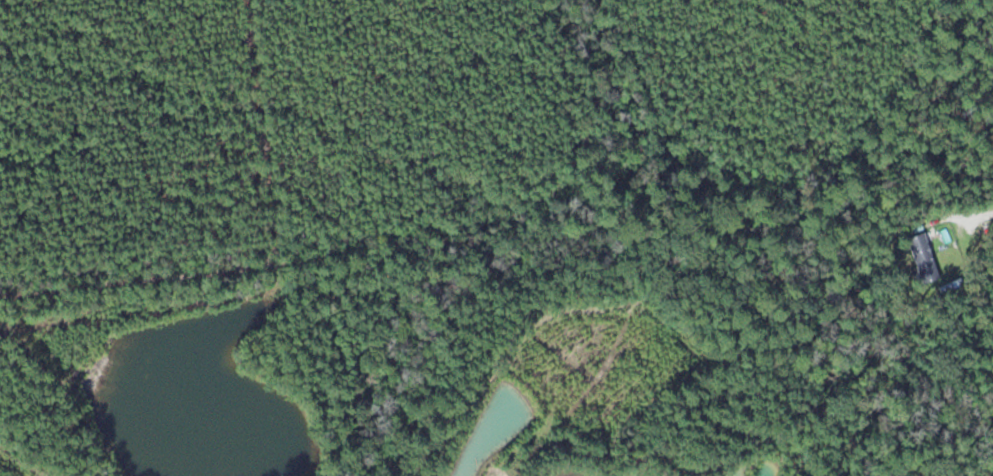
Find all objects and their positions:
building: (920, 257)

